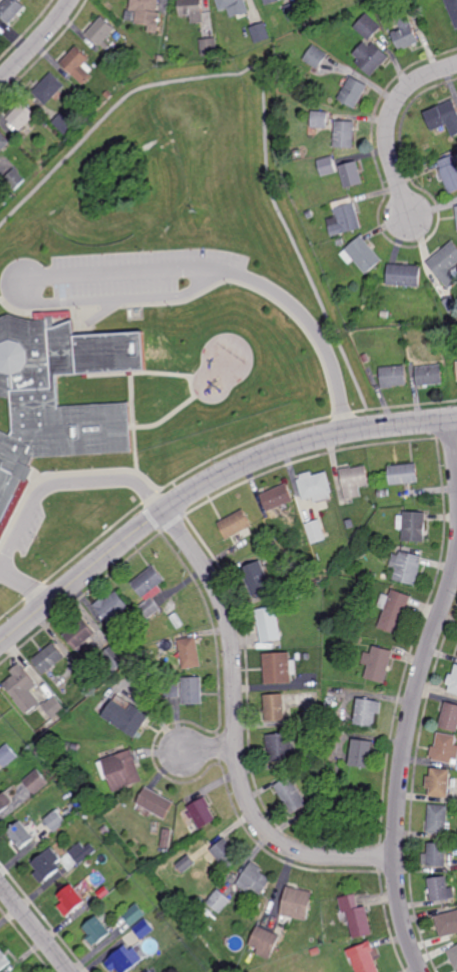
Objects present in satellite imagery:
building: (32, 0)
building: (271, 1)
building: (234, 7)
building: (11, 10)
building: (192, 10)
building: (452, 10)
building: (294, 12)
building: (147, 13)
building: (413, 16)
building: (367, 27)
building: (101, 32)
building: (421, 32)
building: (261, 33)
building: (405, 34)
road: (37, 42)
building: (209, 46)
building: (315, 57)
building: (371, 57)
building: (160, 59)
building: (77, 65)
building: (49, 88)
road: (263, 89)
building: (352, 92)
building: (108, 95)
building: (441, 115)
building: (24, 118)
building: (319, 119)
building: (45, 122)
road: (387, 122)
building: (63, 124)
building: (344, 134)
building: (4, 142)
building: (297, 154)
building: (327, 167)
building: (449, 173)
building: (351, 175)
building: (15, 179)
building: (301, 205)
building: (456, 211)
building: (310, 214)
building: (344, 218)
building: (341, 242)
building: (362, 255)
building: (446, 265)
building: (404, 276)
road: (32, 292)
road: (15, 293)
building: (450, 304)
building: (384, 314)
road: (316, 331)
building: (108, 351)
building: (411, 353)
building: (430, 374)
building: (393, 376)
building: (97, 406)
road: (393, 406)
road: (361, 410)
road: (343, 414)
road: (241, 444)
road: (454, 445)
building: (404, 473)
building: (354, 480)
road: (64, 483)
road: (206, 483)
building: (315, 486)
building: (17, 488)
building: (384, 493)
building: (278, 496)
road: (151, 497)
building: (309, 515)
building: (235, 523)
building: (350, 523)
building: (413, 525)
building: (315, 531)
building: (277, 536)
building: (266, 538)
building: (393, 540)
road: (93, 542)
building: (375, 547)
building: (267, 551)
building: (406, 566)
building: (373, 576)
building: (257, 578)
building: (149, 580)
building: (315, 583)
building: (363, 583)
road: (26, 586)
road: (35, 590)
building: (298, 595)
building: (111, 606)
road: (12, 608)
building: (149, 608)
building: (394, 610)
building: (137, 615)
building: (268, 624)
building: (81, 632)
building: (357, 640)
building: (188, 652)
building: (51, 657)
building: (306, 657)
building: (113, 658)
building: (377, 663)
building: (279, 667)
building: (172, 671)
building: (453, 682)
building: (25, 688)
building: (171, 690)
building: (191, 691)
building: (54, 707)
building: (274, 707)
building: (368, 712)
building: (449, 717)
building: (126, 718)
building: (331, 725)
building: (348, 727)
road: (235, 732)
building: (312, 732)
building: (76, 747)
building: (280, 748)
building: (444, 749)
building: (40, 750)
road: (209, 751)
building: (362, 753)
building: (8, 755)
building: (330, 758)
road: (402, 764)
building: (120, 770)
building: (37, 781)
building: (438, 782)
building: (292, 795)
building: (155, 803)
building: (3, 804)
building: (201, 813)
building: (71, 814)
building: (438, 819)
building: (58, 821)
building: (105, 830)
building: (22, 836)
building: (166, 838)
building: (83, 853)
building: (226, 854)
building: (435, 855)
building: (186, 864)
building: (49, 865)
building: (255, 880)
building: (440, 889)
building: (72, 901)
building: (220, 901)
building: (298, 904)
building: (259, 906)
building: (201, 914)
building: (135, 915)
building: (357, 916)
building: (445, 923)
road: (35, 928)
building: (145, 930)
building: (97, 931)
building: (265, 943)
building: (316, 952)
building: (453, 956)
building: (365, 959)
building: (4, 960)
building: (121, 961)

